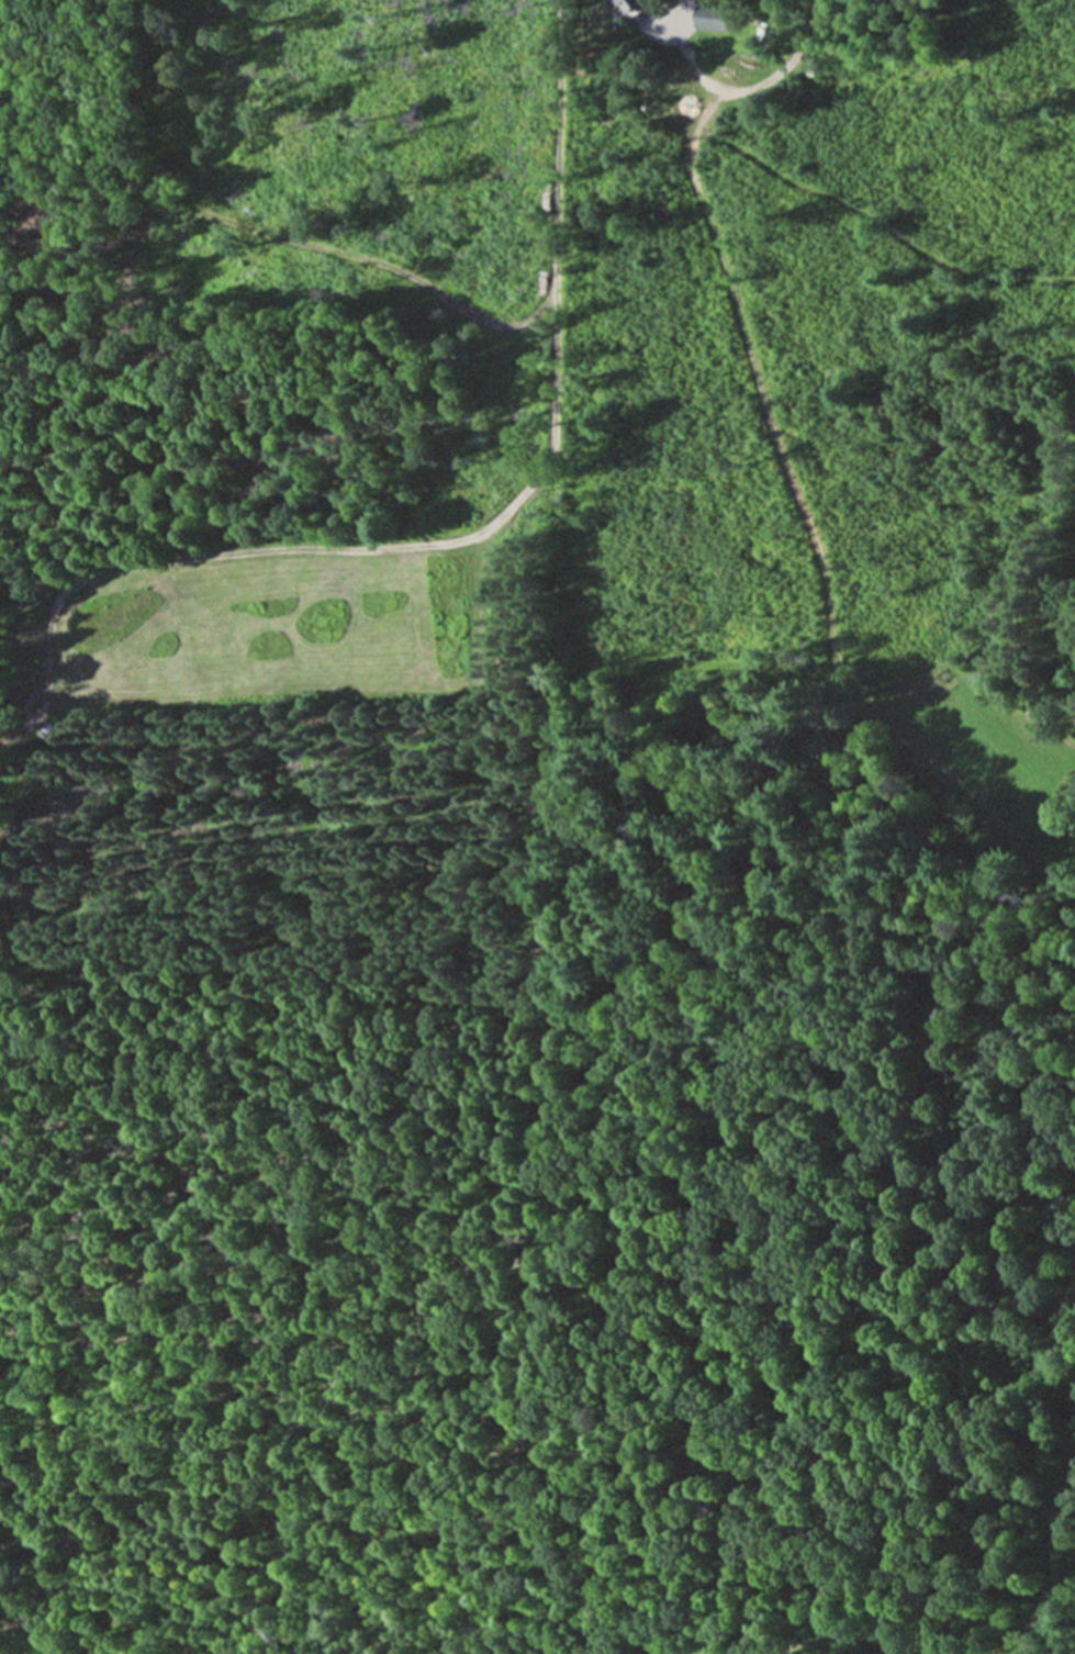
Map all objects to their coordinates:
building: (632, 5)
building: (714, 19)
road: (736, 90)
road: (669, 1651)

